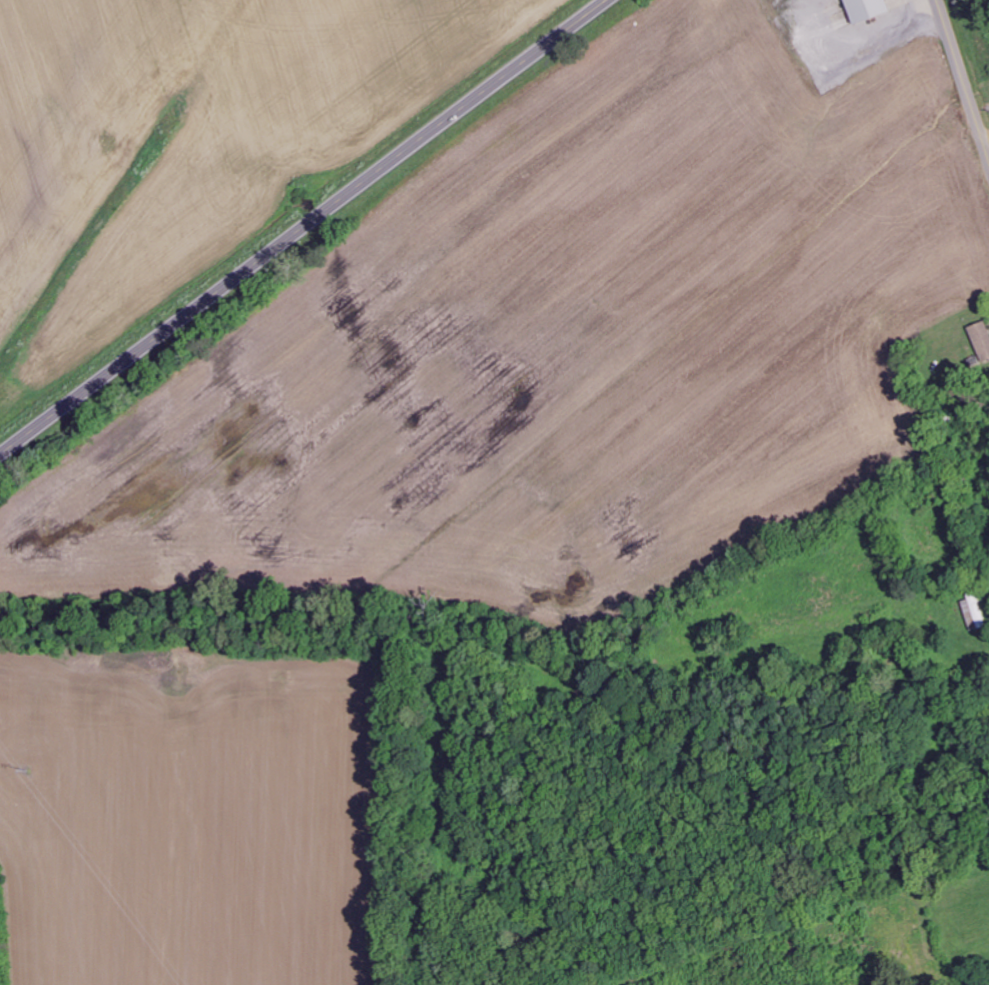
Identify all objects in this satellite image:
building: (865, 9)
road: (962, 79)
road: (302, 227)
building: (981, 339)
building: (974, 613)

